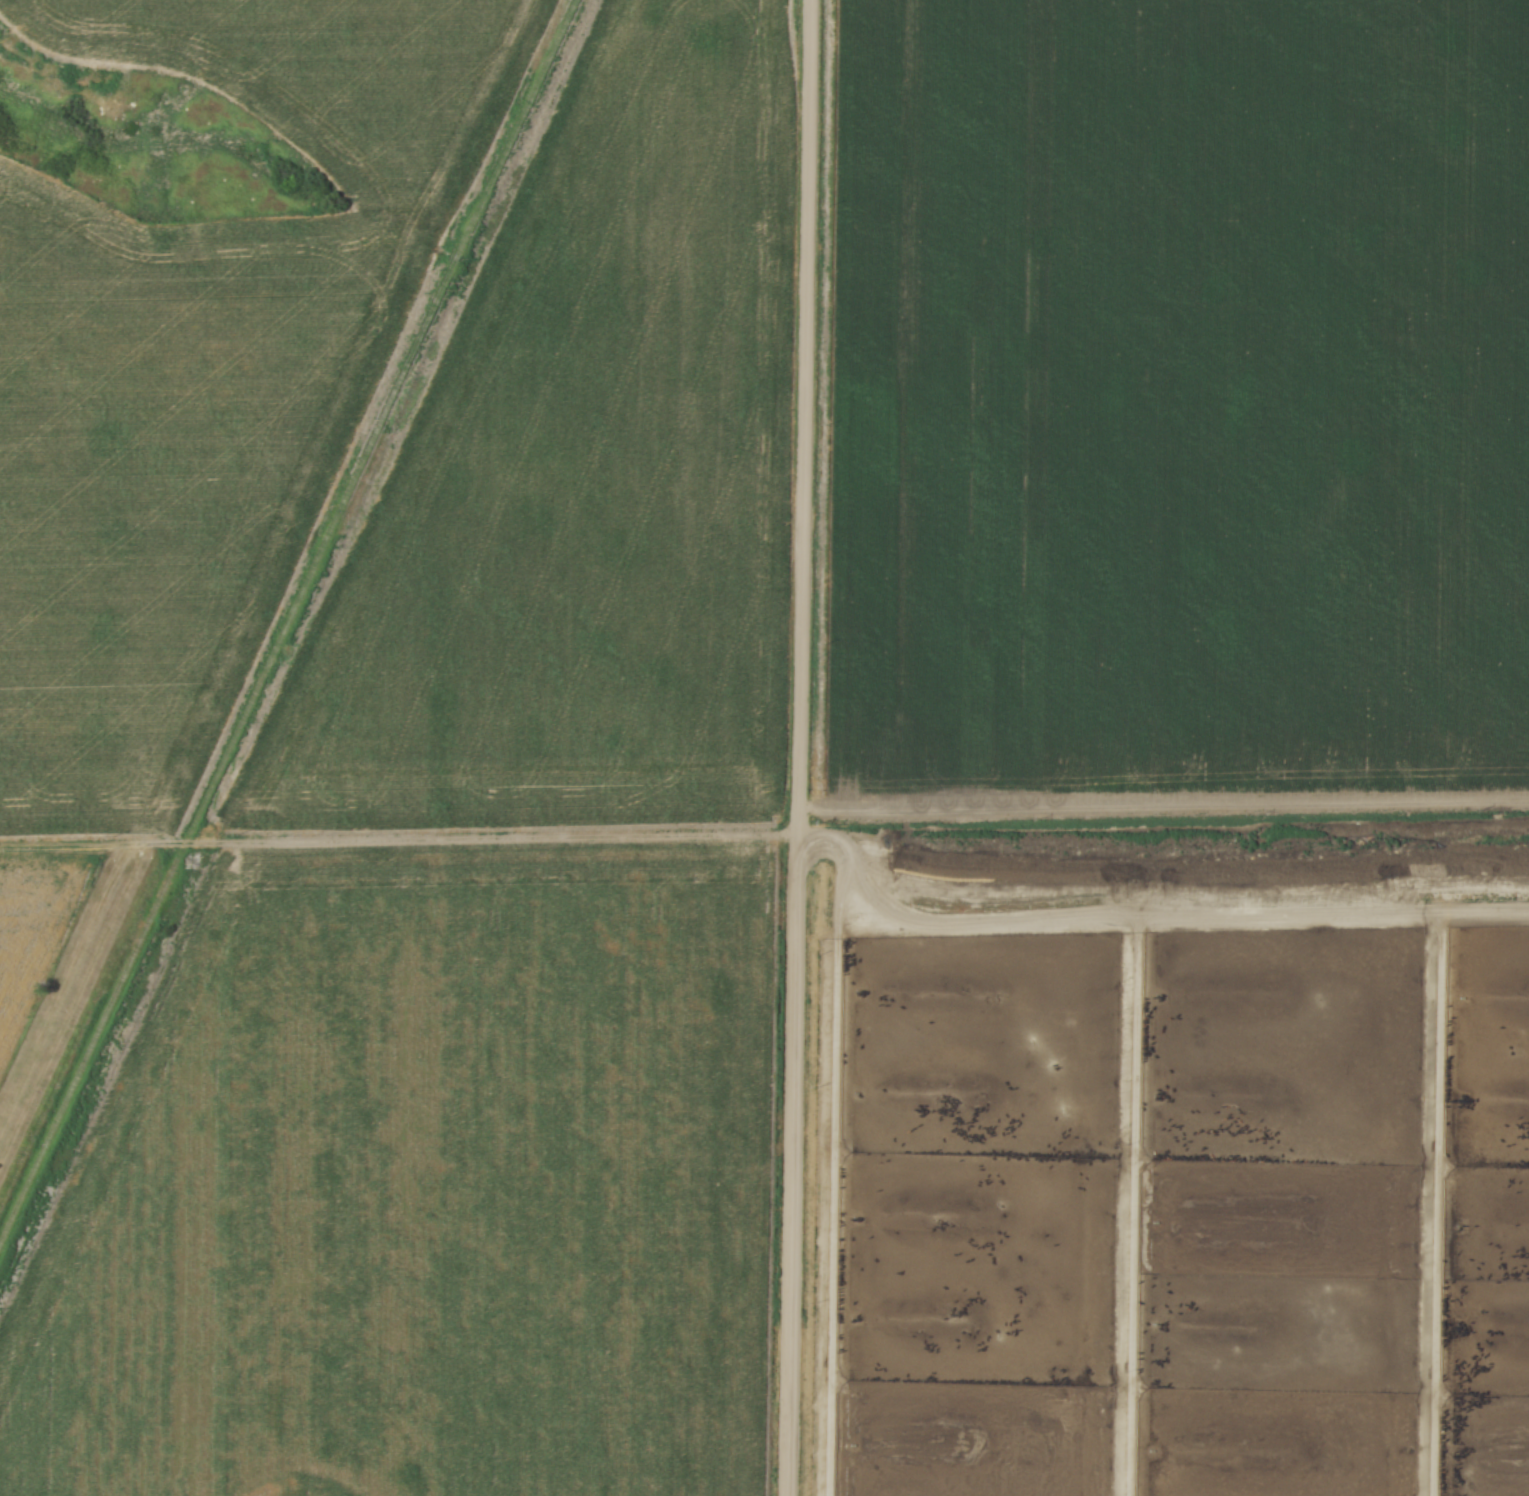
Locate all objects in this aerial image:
crop: (208, 374)
crop: (1181, 397)
crop: (587, 478)
railway: (288, 633)
road: (799, 748)
crop: (37, 931)

